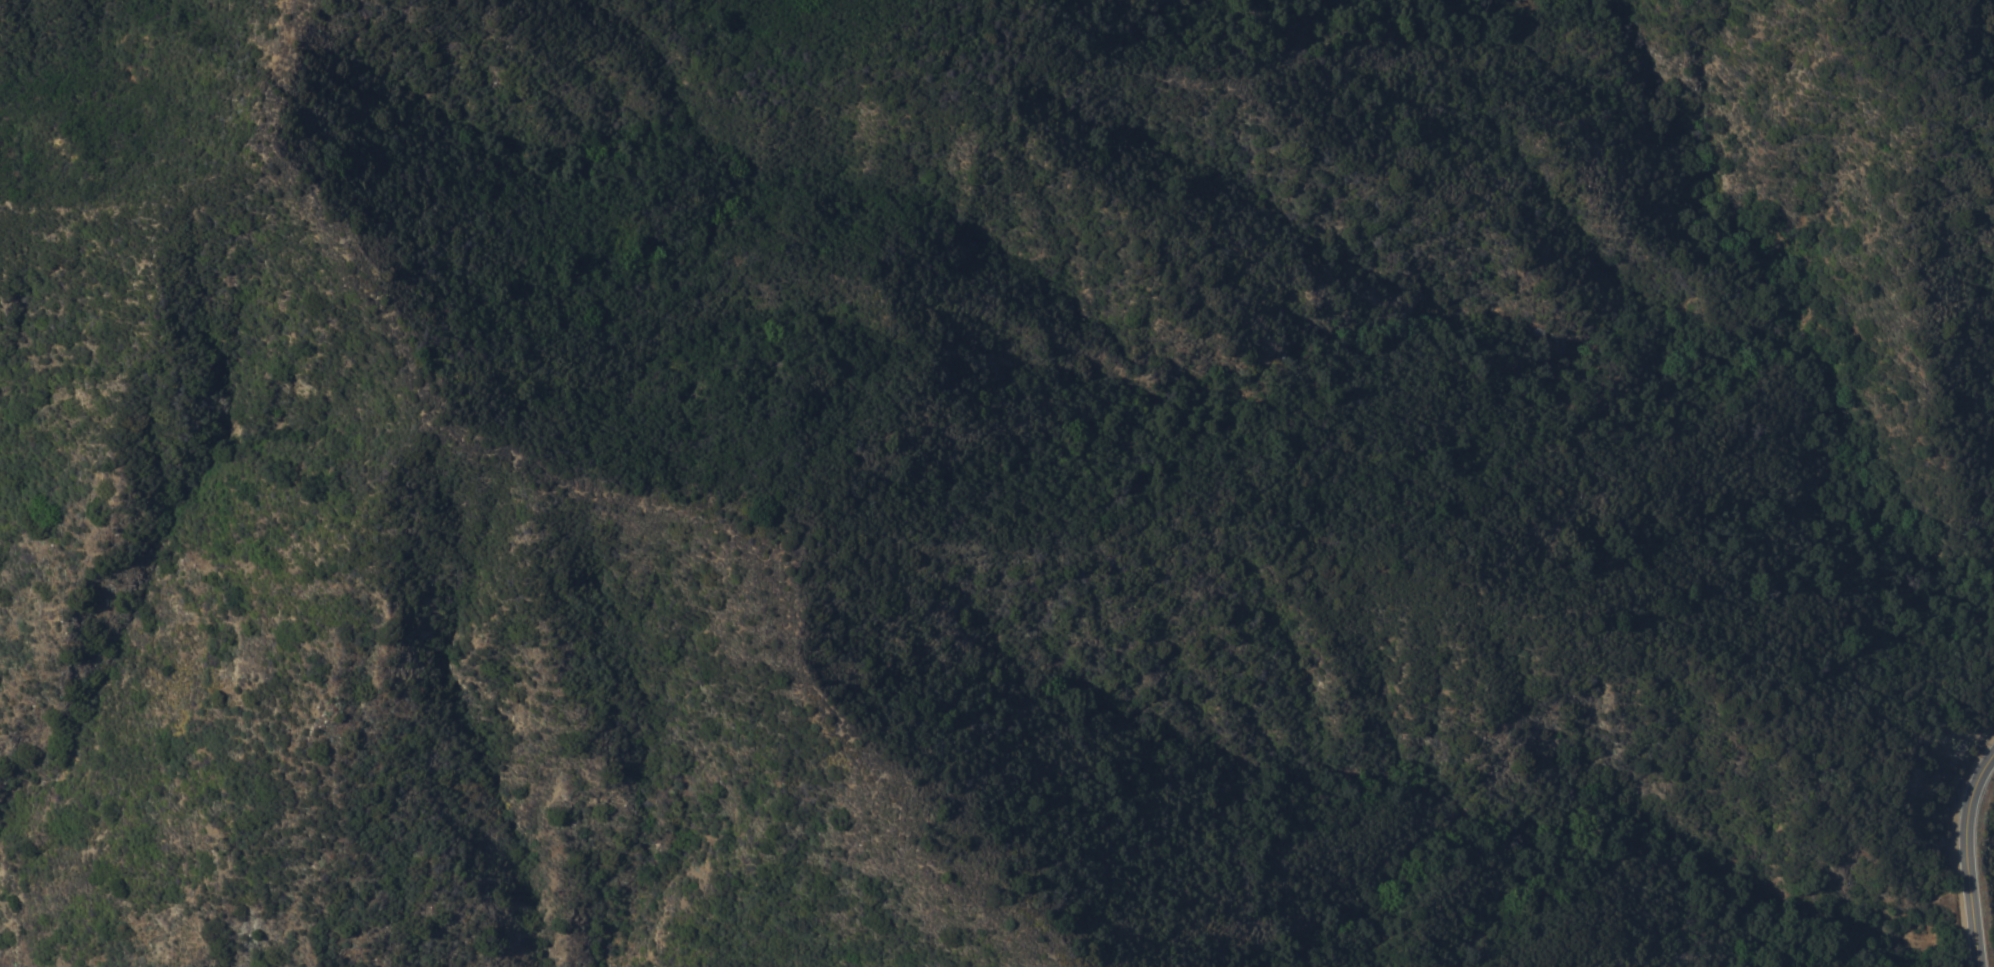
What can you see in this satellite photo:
road: (1964, 856)

